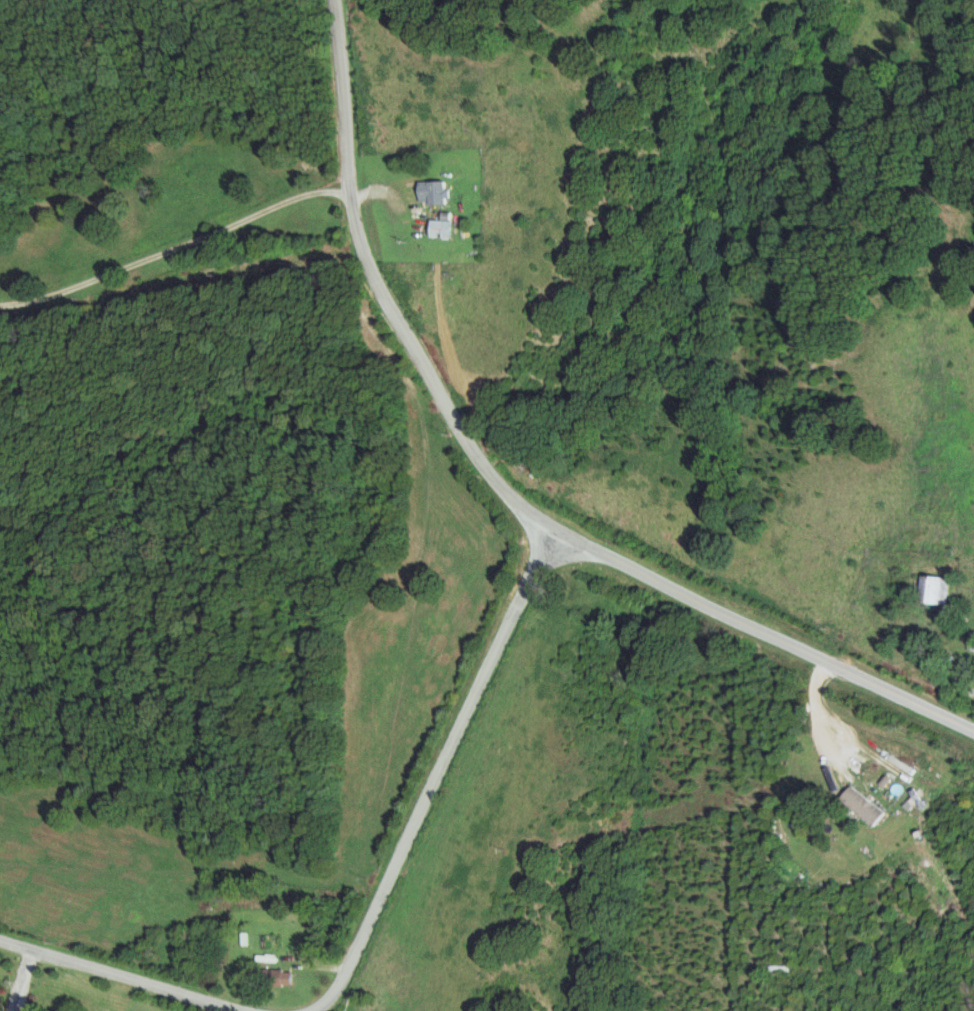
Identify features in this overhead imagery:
building: (435, 191)
building: (441, 228)
road: (212, 244)
road: (380, 294)
building: (934, 589)
road: (766, 632)
road: (962, 681)
road: (800, 757)
road: (439, 775)
building: (861, 806)
road: (307, 972)
road: (111, 978)

